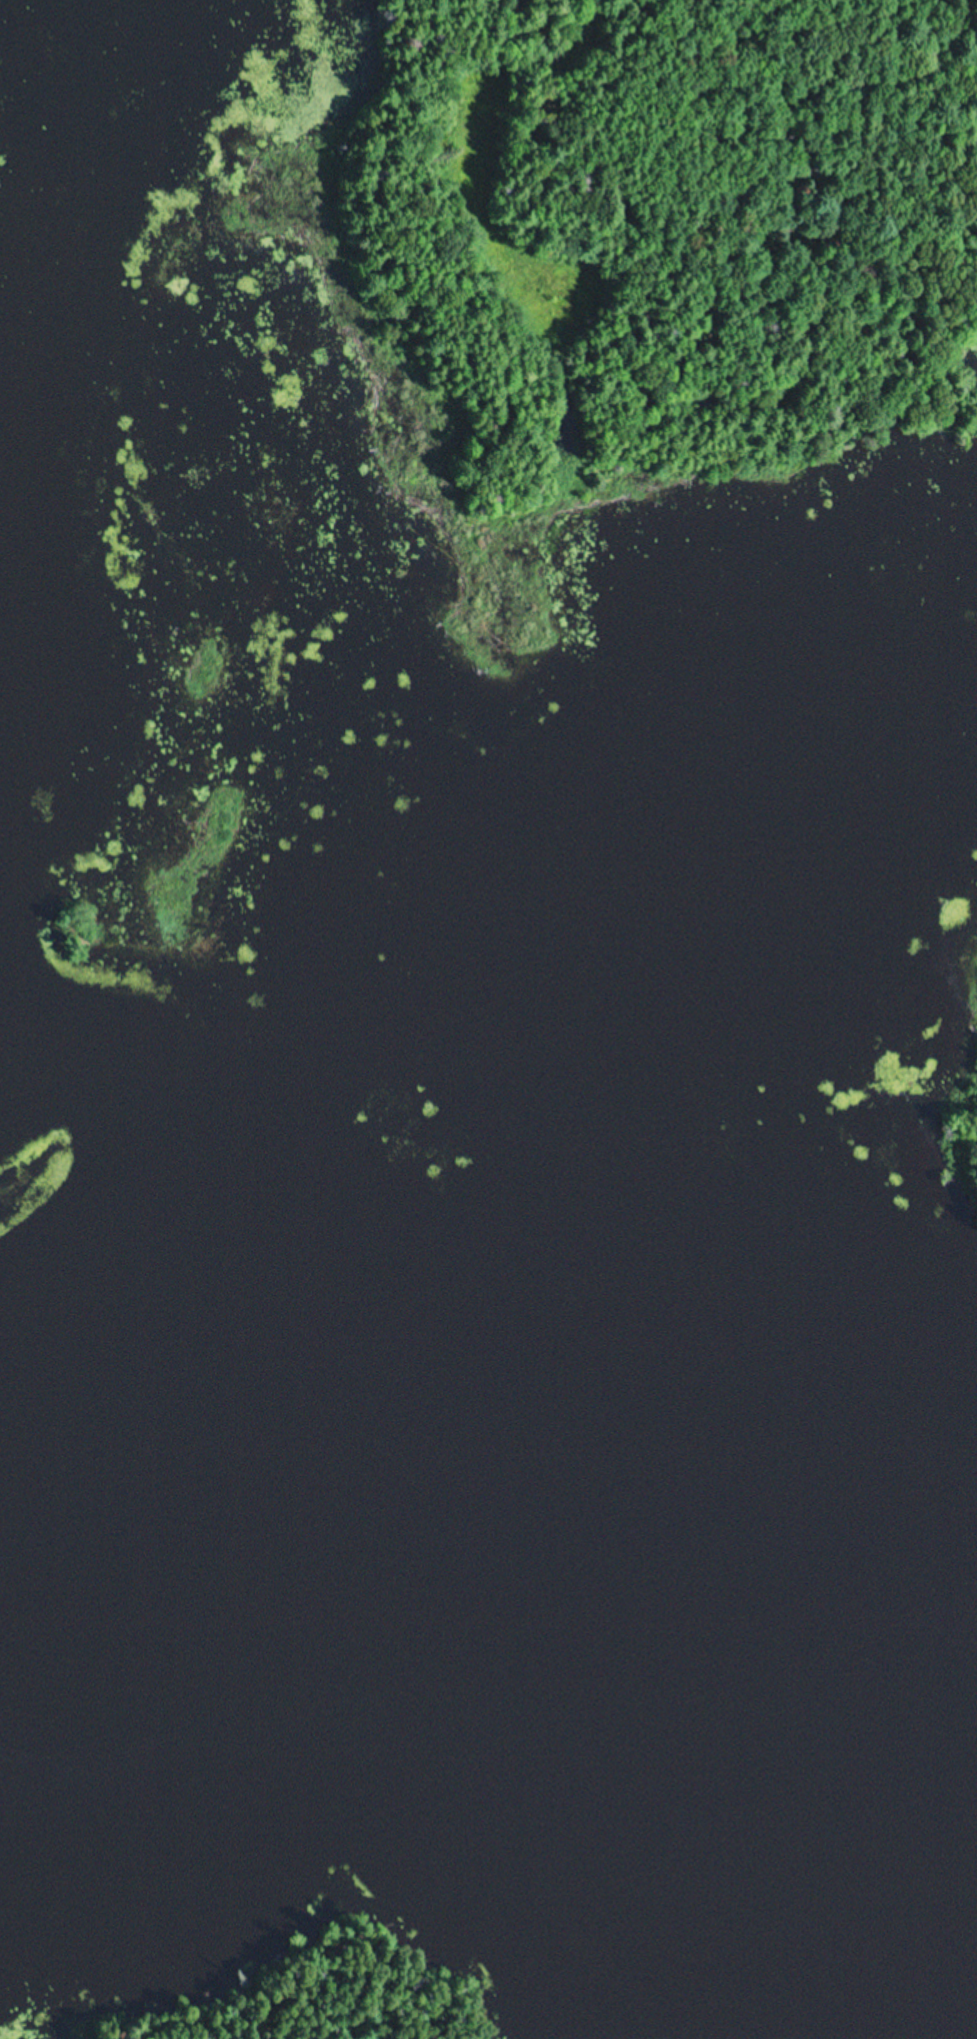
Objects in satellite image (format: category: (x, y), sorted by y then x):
river: (559, 1573)

